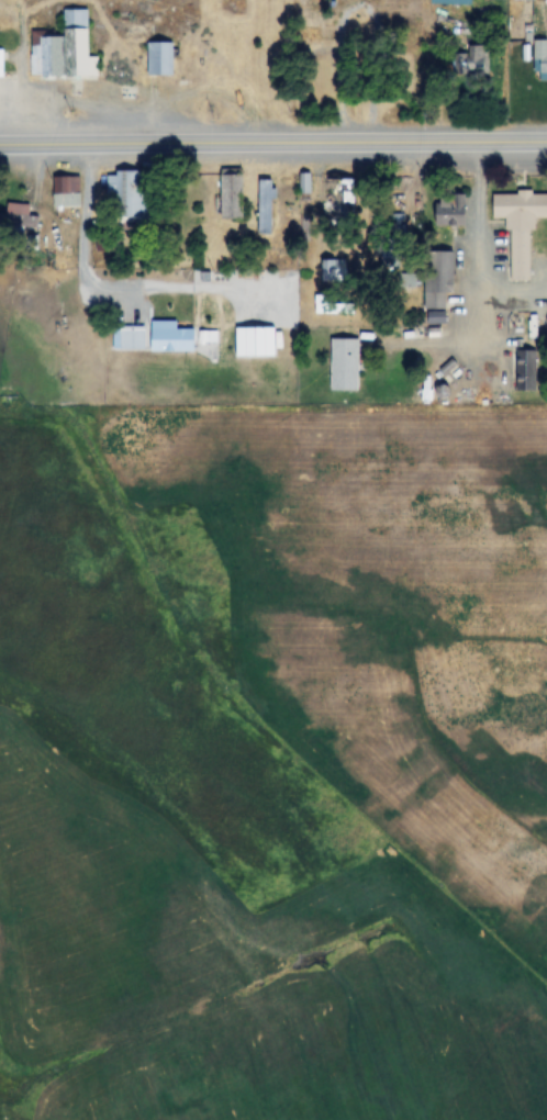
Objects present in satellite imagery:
building: (523, 0)
building: (451, 2)
building: (64, 53)
building: (159, 58)
building: (540, 59)
building: (472, 61)
building: (1, 64)
road: (272, 142)
building: (66, 186)
building: (231, 195)
building: (129, 198)
building: (337, 199)
road: (85, 202)
building: (265, 206)
building: (450, 210)
building: (14, 217)
building: (520, 228)
building: (395, 242)
building: (334, 271)
building: (437, 279)
building: (436, 318)
building: (170, 337)
building: (132, 338)
building: (345, 365)

